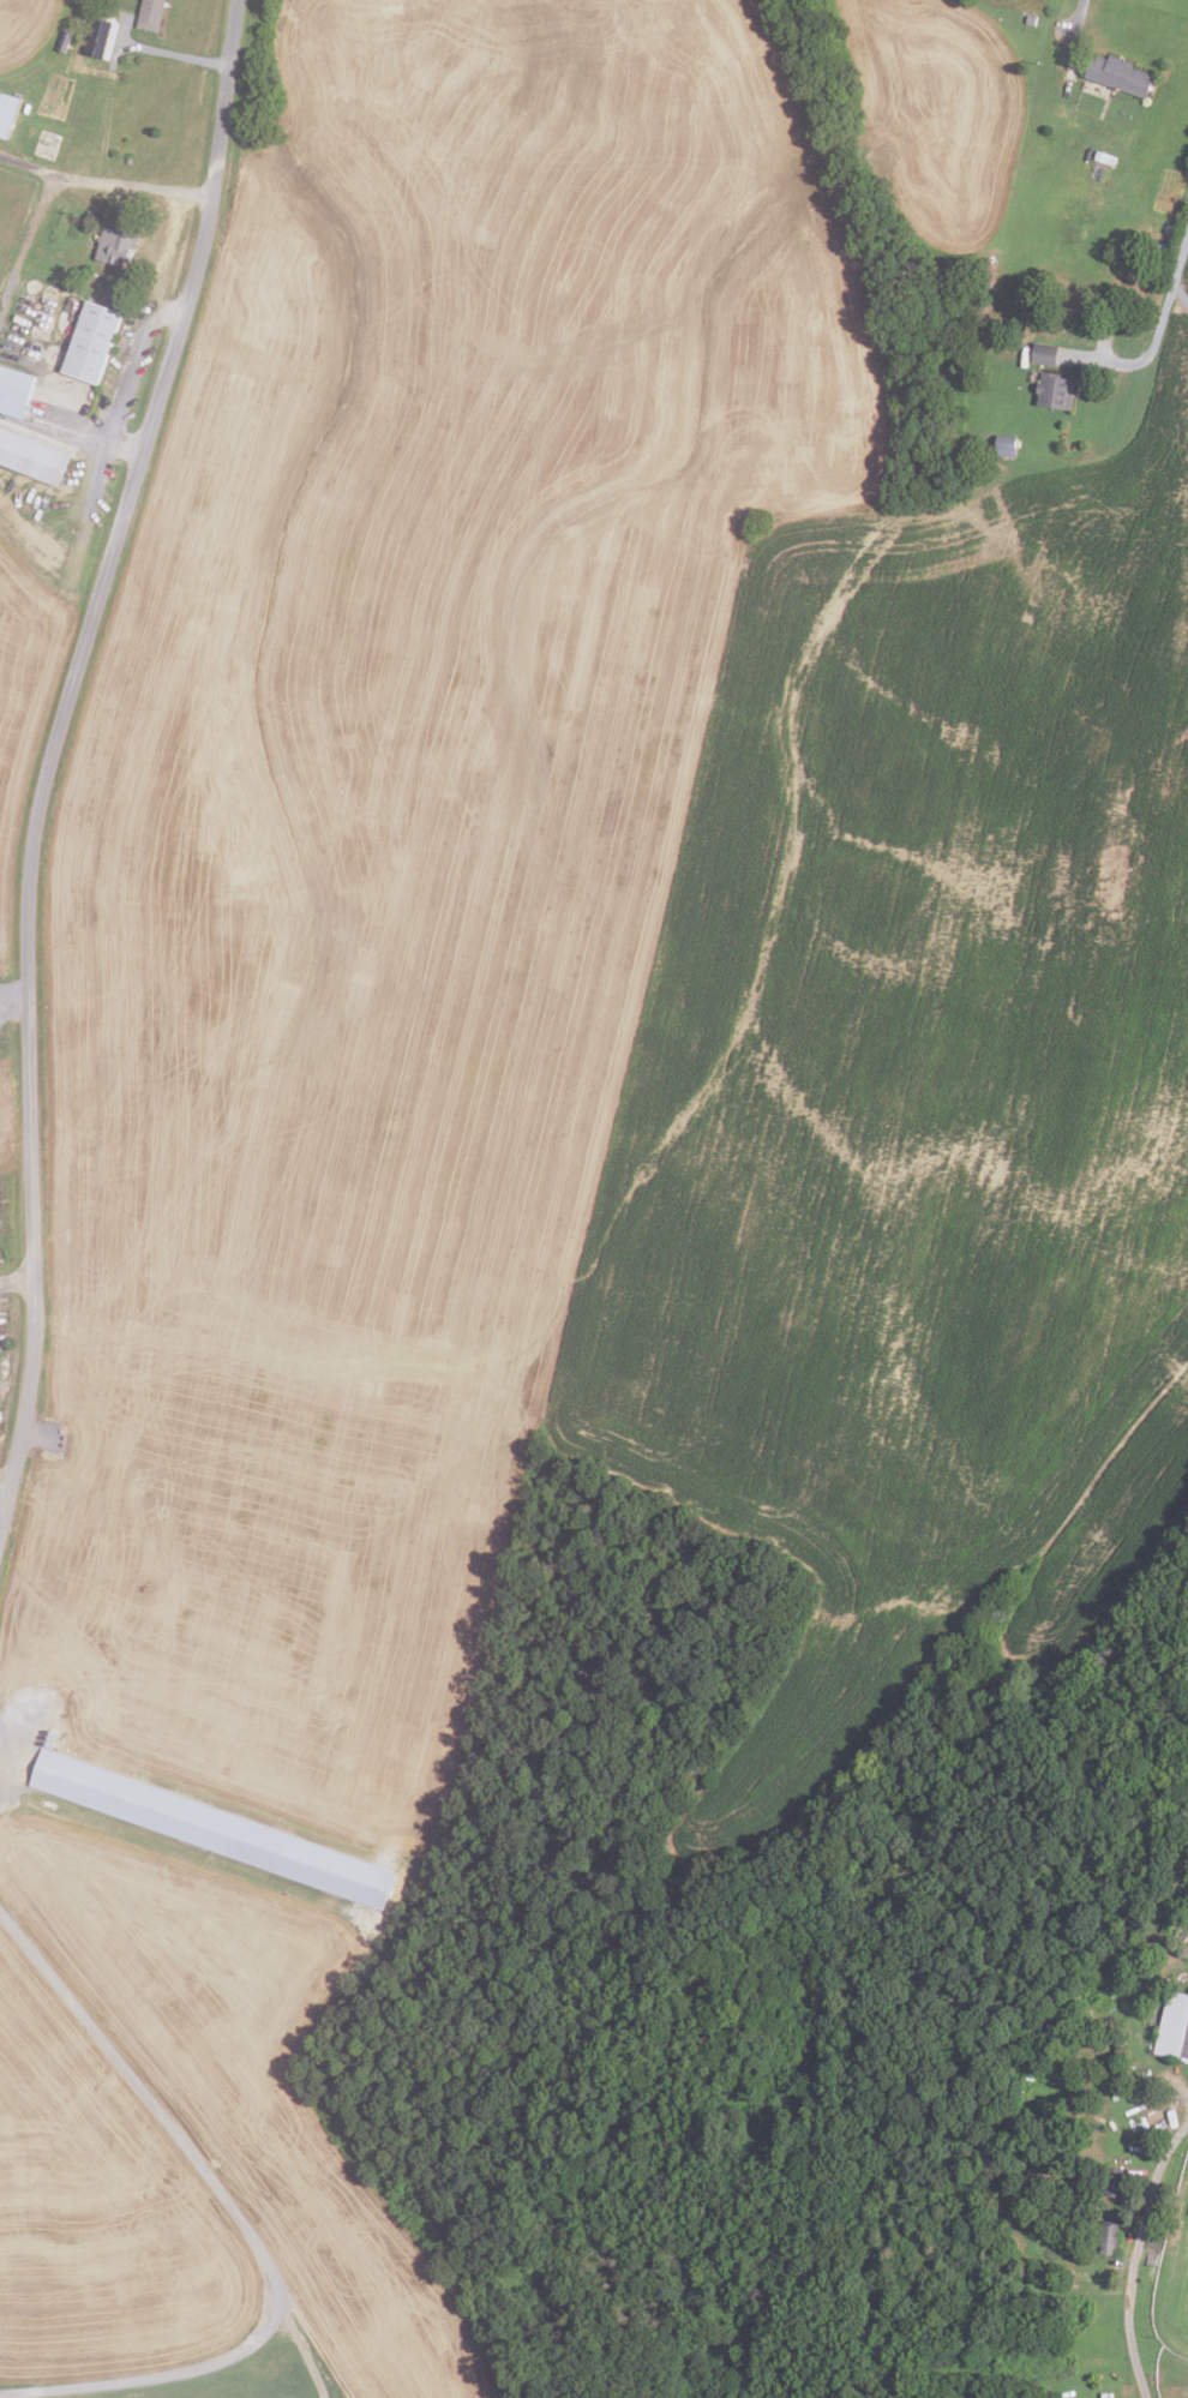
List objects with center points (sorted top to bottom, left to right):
building: (1019, 5)
building: (149, 14)
road: (1078, 17)
building: (1030, 19)
building: (103, 40)
building: (62, 41)
road: (113, 58)
building: (1117, 74)
building: (6, 113)
road: (104, 181)
road: (25, 239)
building: (115, 245)
road: (162, 313)
road: (1157, 323)
road: (142, 332)
building: (90, 342)
road: (2, 347)
building: (1044, 354)
building: (13, 391)
building: (1054, 391)
building: (1006, 446)
building: (31, 457)
crop: (20, 753)
road: (49, 755)
crop: (594, 946)
road: (17, 1281)
road: (5, 1488)
road: (16, 1743)
building: (212, 1829)
building: (1172, 2027)
building: (1116, 2056)
road: (184, 2147)
building: (1114, 2182)
crop: (98, 2212)
building: (1109, 2238)
road: (1135, 2255)
building: (1082, 2277)
road: (158, 2376)

